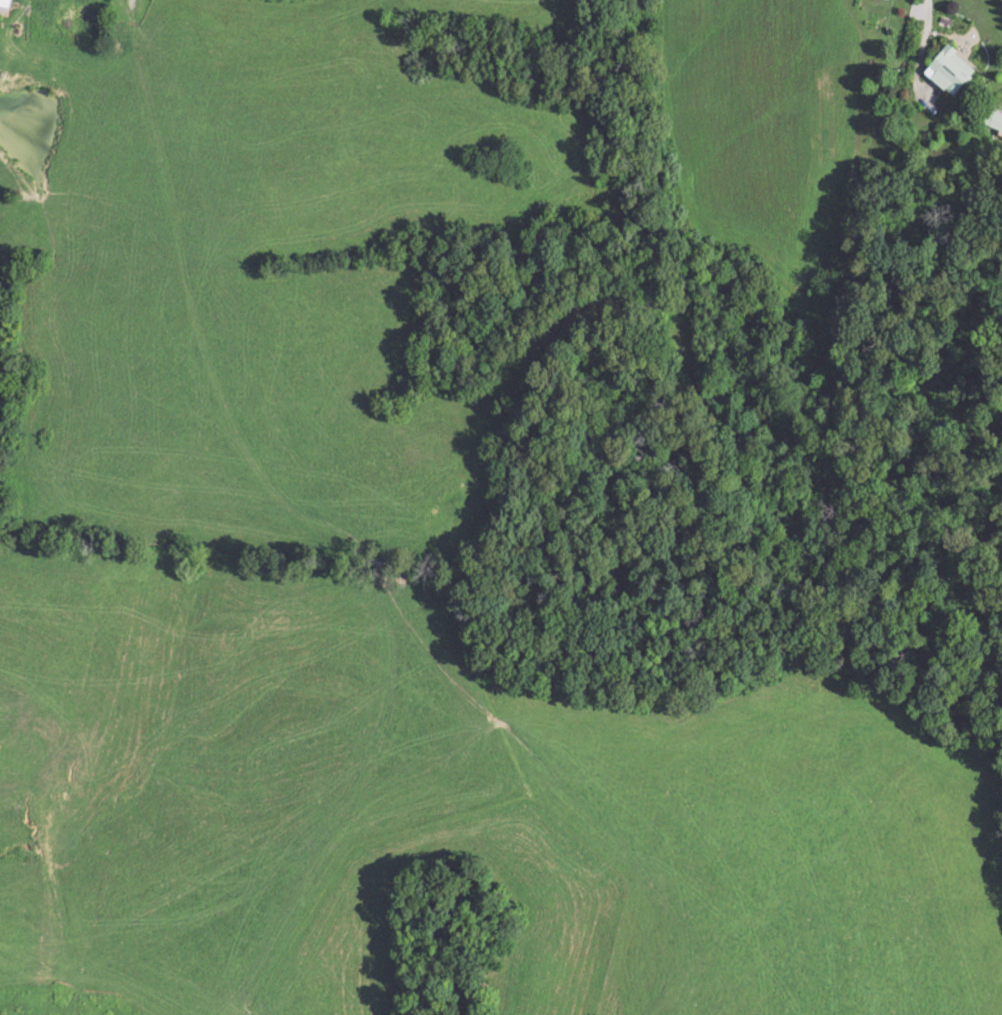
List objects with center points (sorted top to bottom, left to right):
building: (7, 3)
road: (921, 48)
building: (954, 71)
building: (994, 120)

